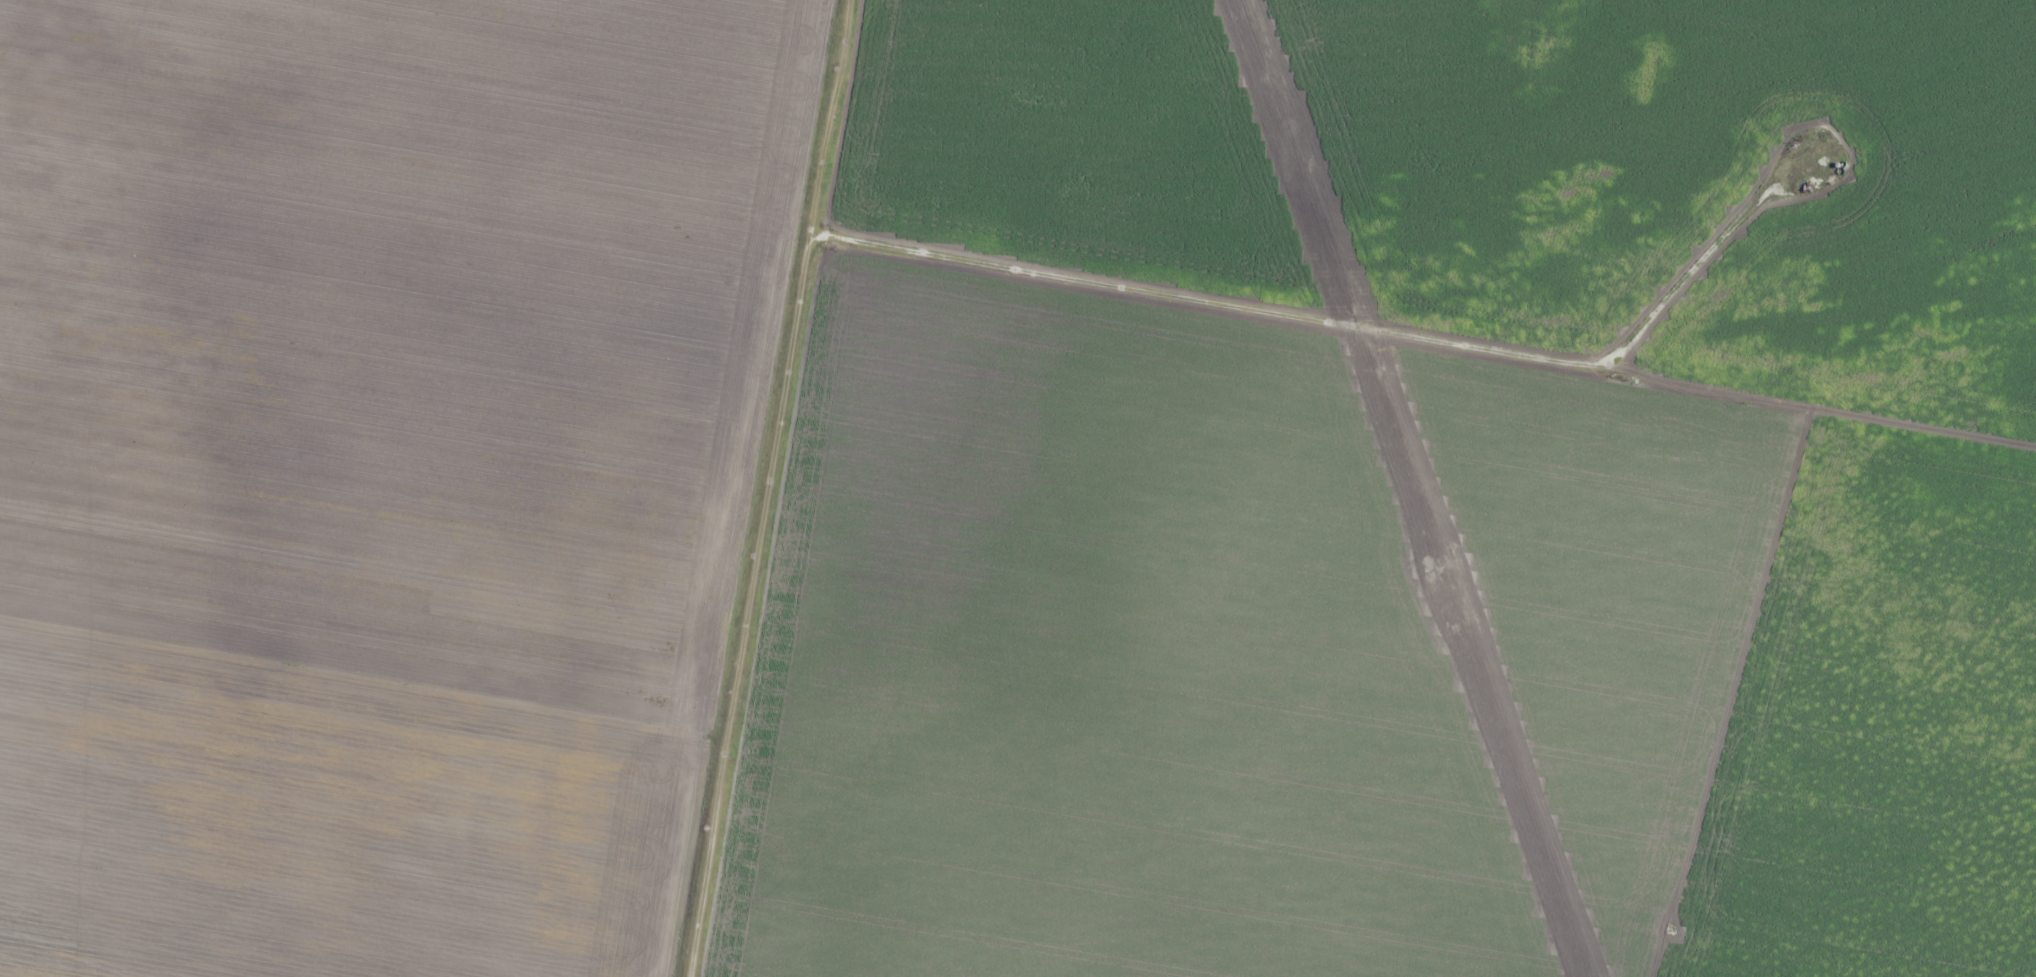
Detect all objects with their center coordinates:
road: (842, 488)

